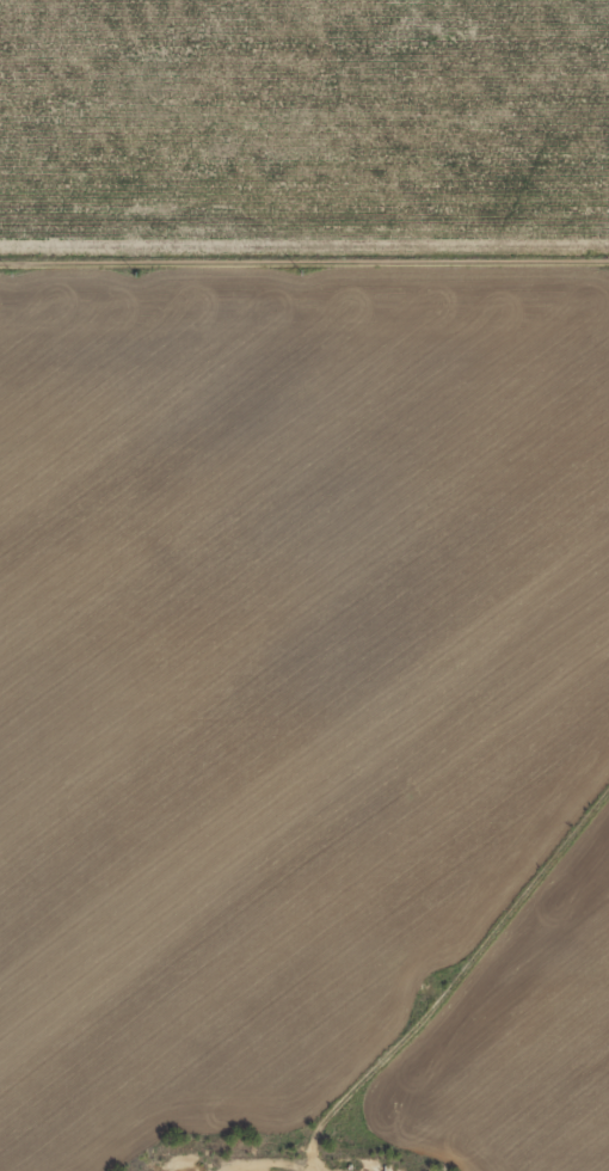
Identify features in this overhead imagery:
road: (304, 245)
road: (539, 873)

